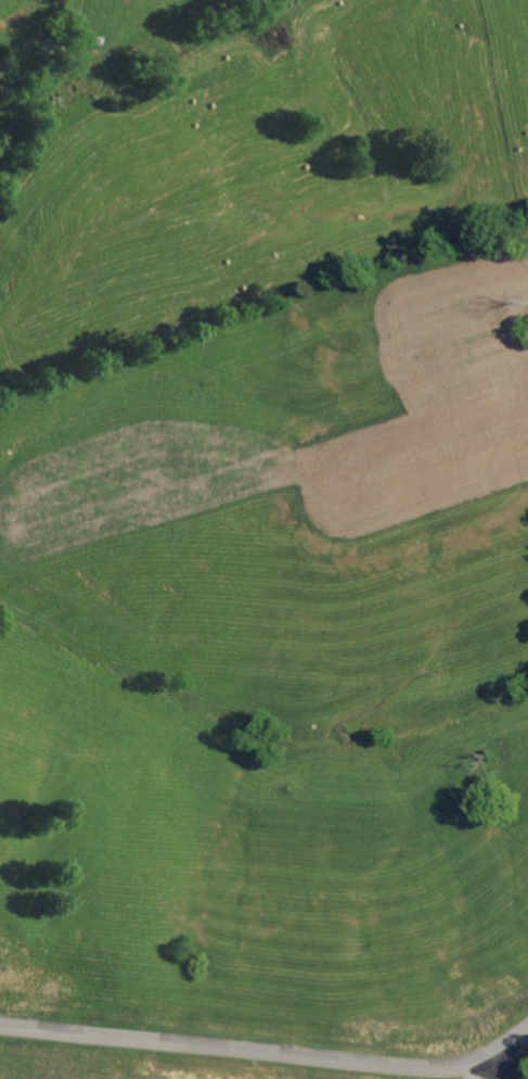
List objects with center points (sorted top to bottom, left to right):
road: (269, 1051)
road: (505, 1064)

